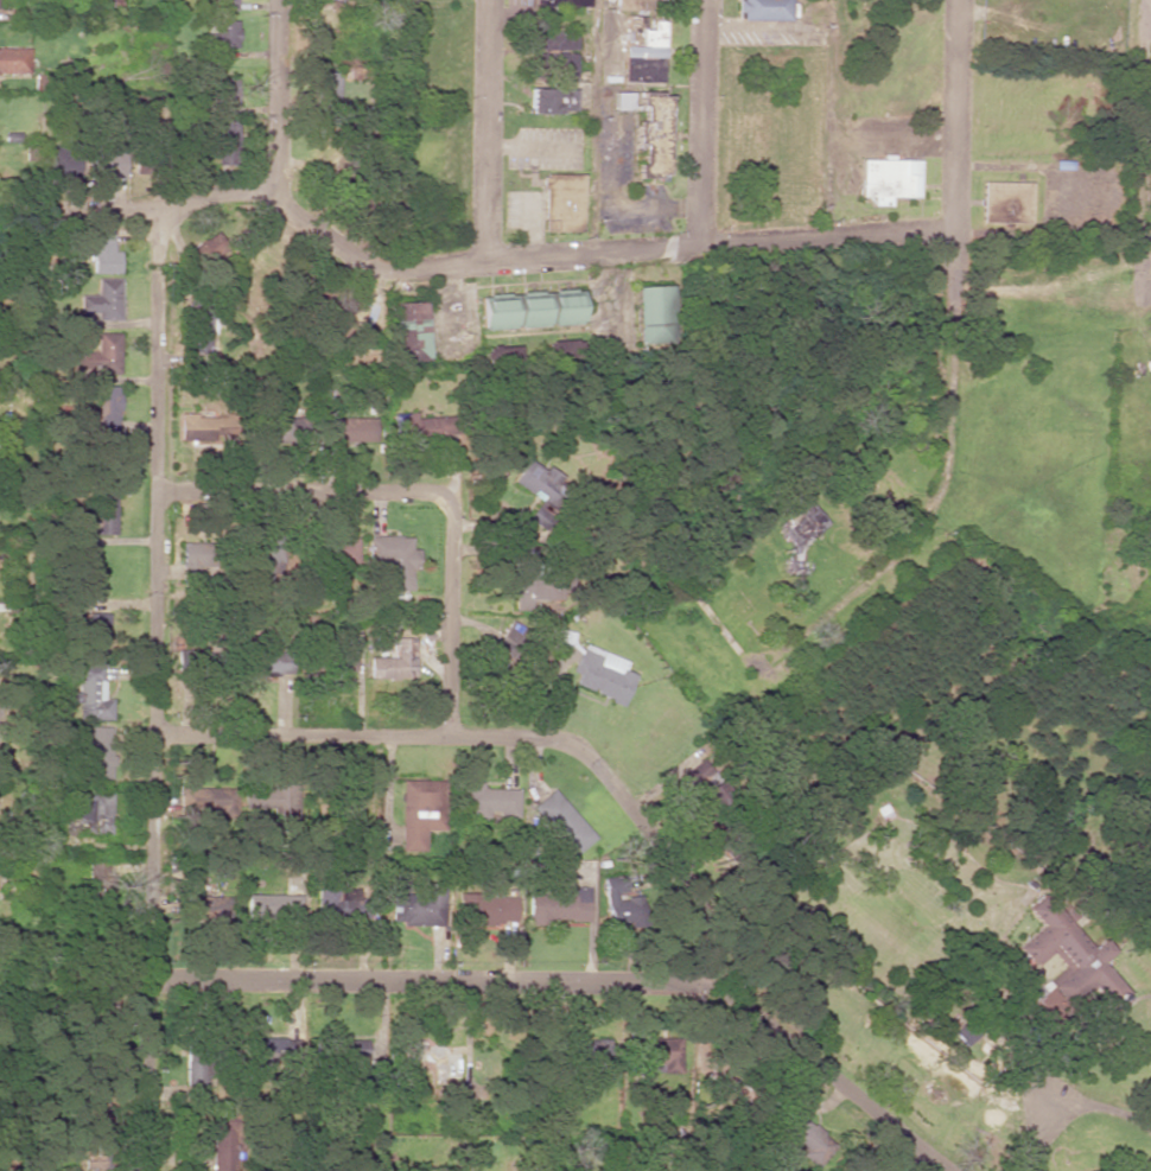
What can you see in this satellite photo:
building: (561, 2)
building: (222, 5)
building: (630, 5)
building: (764, 9)
building: (223, 33)
building: (554, 40)
building: (642, 47)
building: (13, 61)
building: (326, 90)
road: (276, 95)
building: (621, 101)
building: (225, 121)
road: (700, 122)
road: (487, 131)
building: (651, 132)
building: (106, 159)
building: (888, 179)
building: (560, 203)
building: (1005, 203)
road: (1139, 238)
building: (103, 253)
road: (543, 256)
building: (103, 300)
building: (529, 310)
building: (357, 313)
building: (651, 313)
building: (408, 332)
building: (100, 356)
road: (952, 376)
building: (106, 411)
building: (419, 424)
building: (201, 426)
building: (346, 429)
building: (540, 491)
road: (426, 494)
building: (103, 514)
building: (350, 545)
building: (394, 559)
building: (527, 584)
building: (560, 584)
building: (94, 635)
building: (507, 638)
building: (339, 658)
building: (268, 662)
building: (395, 663)
building: (600, 674)
road: (154, 693)
building: (91, 694)
road: (508, 739)
building: (97, 752)
building: (490, 802)
building: (94, 812)
building: (419, 812)
building: (562, 822)
building: (342, 904)
building: (273, 905)
building: (420, 906)
building: (559, 906)
building: (206, 909)
building: (622, 909)
building: (487, 910)
building: (998, 957)
building: (1083, 962)
road: (575, 981)
building: (581, 1051)
building: (222, 1143)

